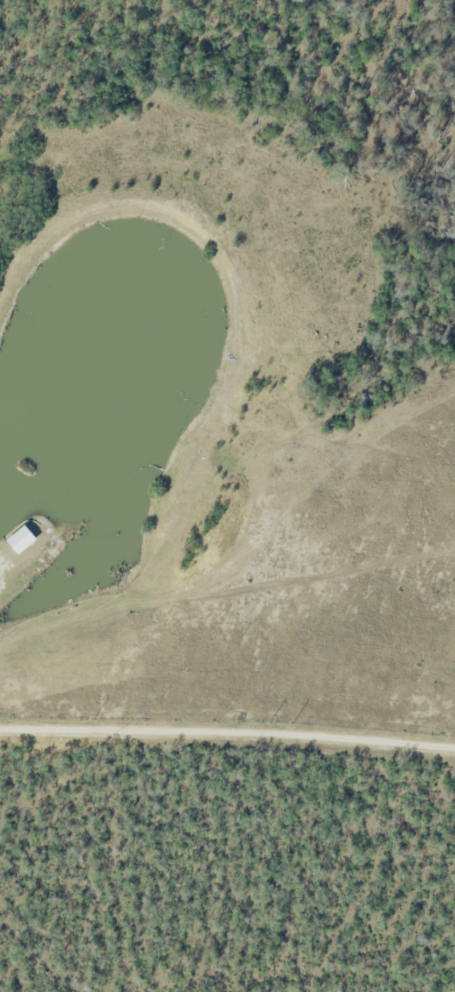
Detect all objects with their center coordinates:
road: (227, 732)

